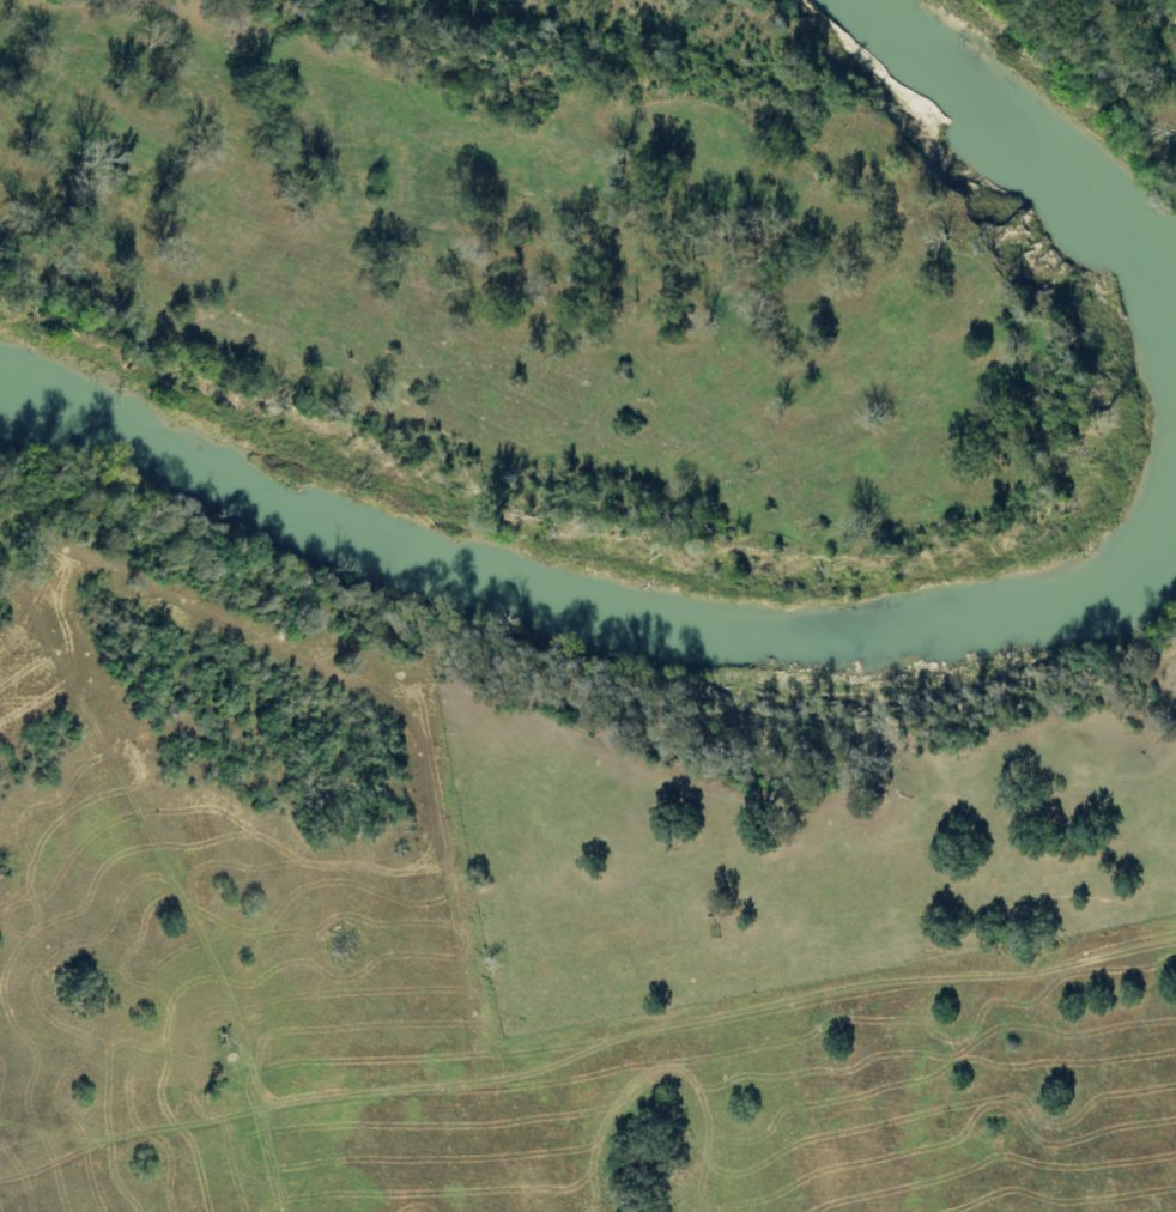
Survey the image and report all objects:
river: (1036, 135)
river: (592, 600)

